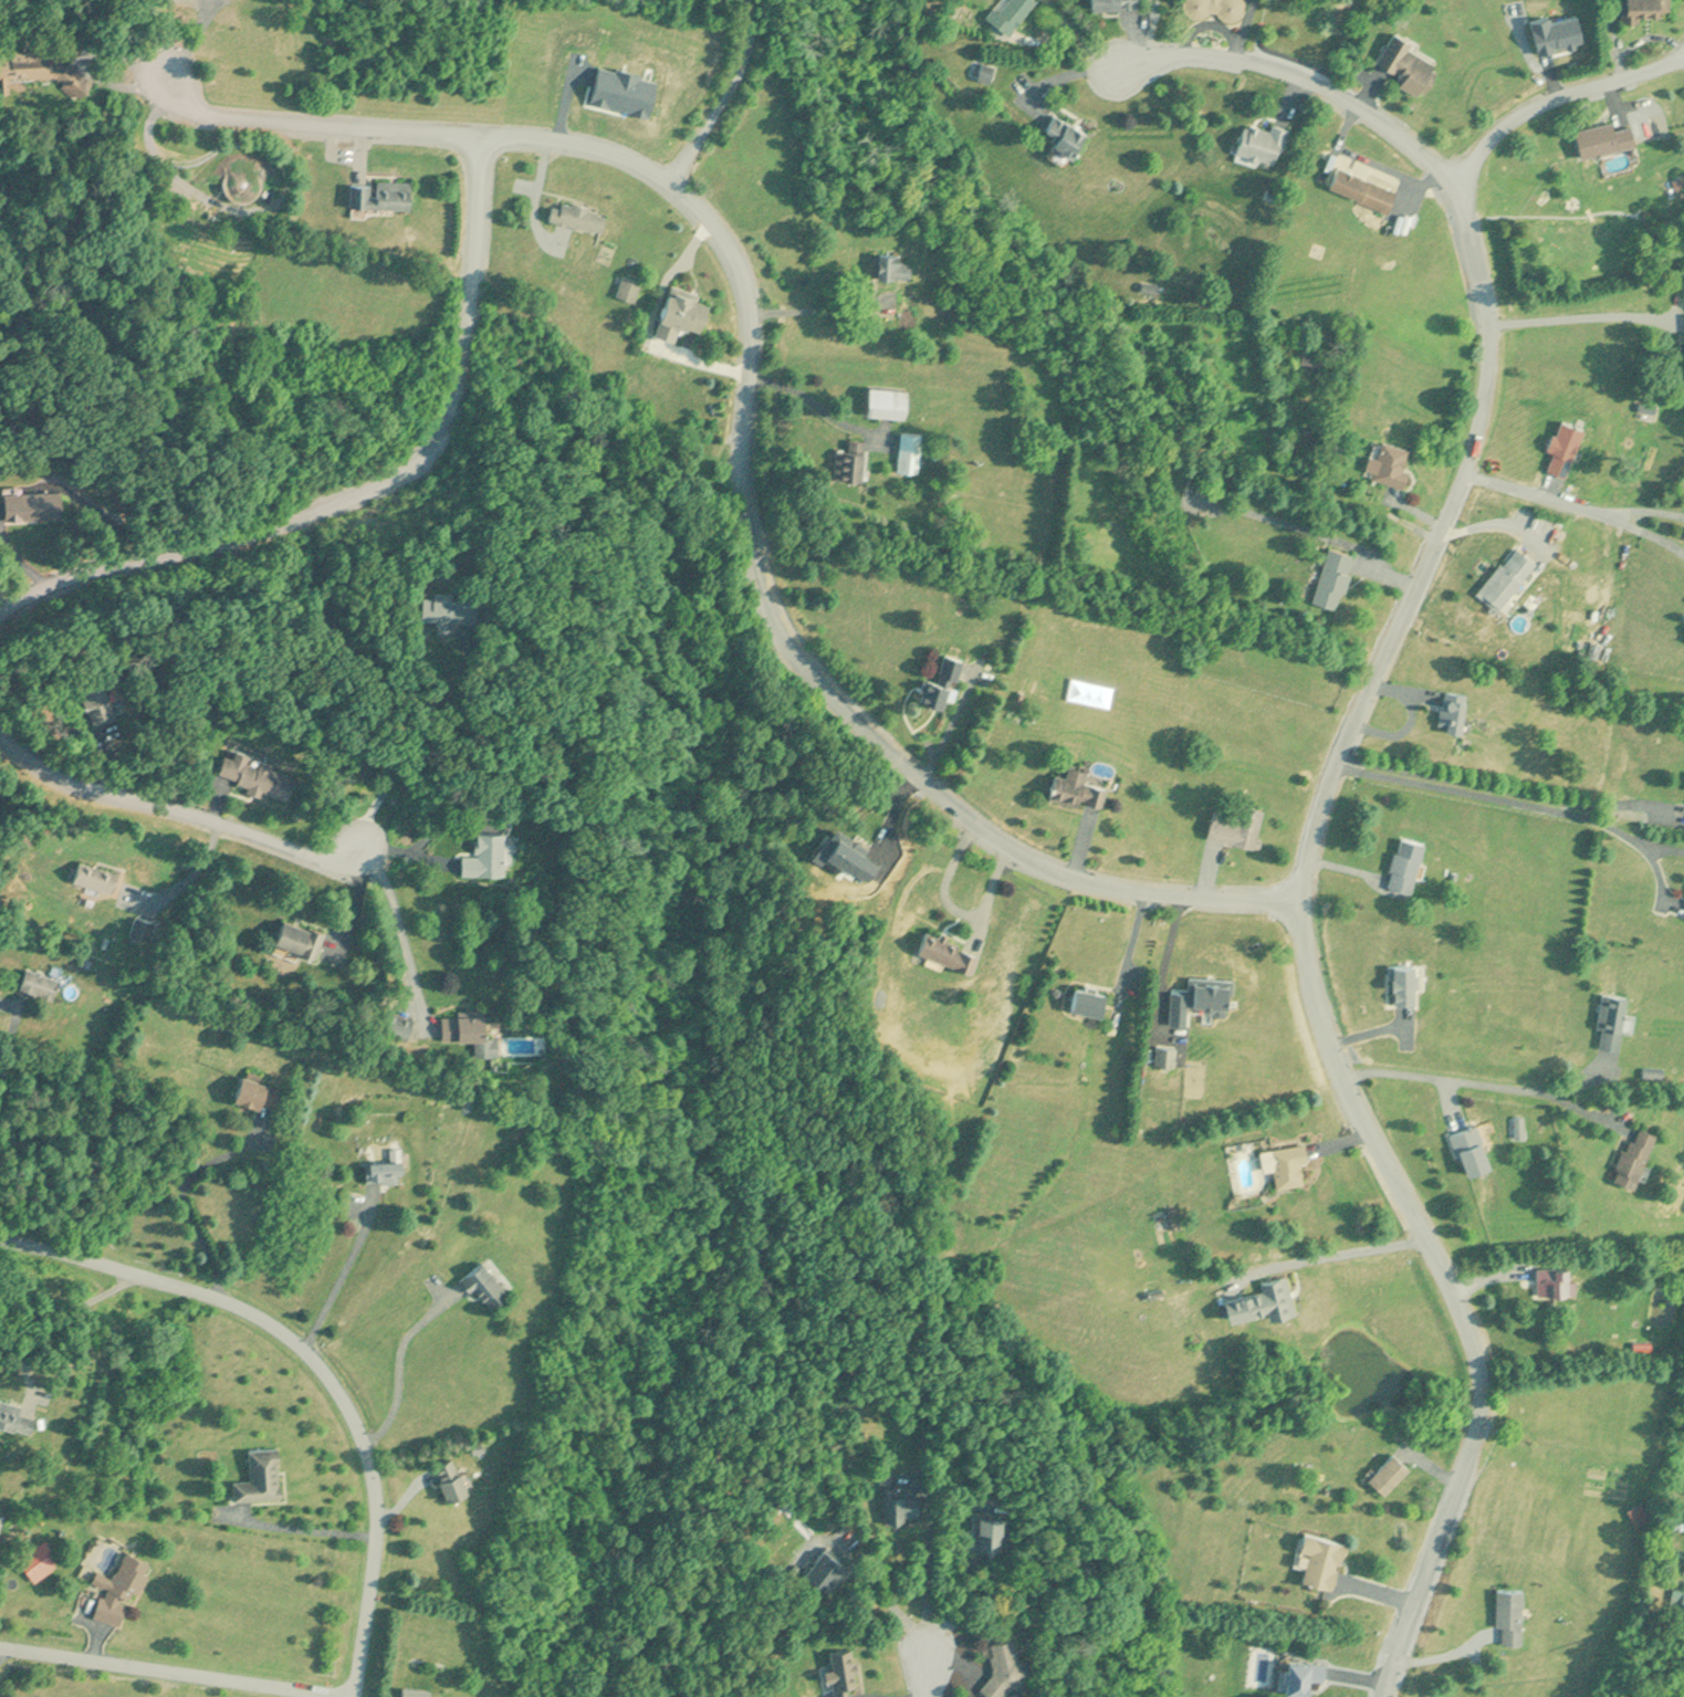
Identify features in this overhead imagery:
building: (1113, 3)
building: (1215, 9)
building: (1646, 9)
building: (1008, 13)
road: (1069, 24)
road: (188, 41)
road: (1065, 44)
building: (1410, 63)
building: (31, 71)
road: (726, 97)
road: (1557, 101)
building: (1064, 132)
building: (1604, 137)
building: (1261, 144)
building: (1362, 188)
building: (378, 193)
building: (577, 214)
building: (890, 265)
building: (627, 287)
road: (813, 304)
building: (680, 313)
road: (1576, 316)
building: (1314, 359)
building: (886, 401)
road: (822, 406)
road: (749, 437)
building: (1565, 447)
building: (909, 452)
building: (849, 461)
building: (1392, 463)
road: (364, 488)
road: (1575, 507)
road: (1640, 510)
building: (1506, 577)
building: (1333, 578)
building: (1450, 710)
road: (949, 726)
road: (404, 744)
road: (1333, 763)
road: (1497, 786)
road: (1509, 802)
road: (176, 813)
road: (398, 923)
road: (12, 1062)
road: (1488, 1096)
road: (1581, 1111)
road: (185, 1188)
road: (1322, 1257)
road: (332, 1287)
road: (67, 1317)
road: (320, 1364)
road: (406, 1380)
road: (301, 1523)
road: (927, 1571)
road: (950, 1571)
road: (888, 1603)
road: (2, 1649)
road: (1446, 1661)
road: (164, 1672)
road: (924, 1680)

